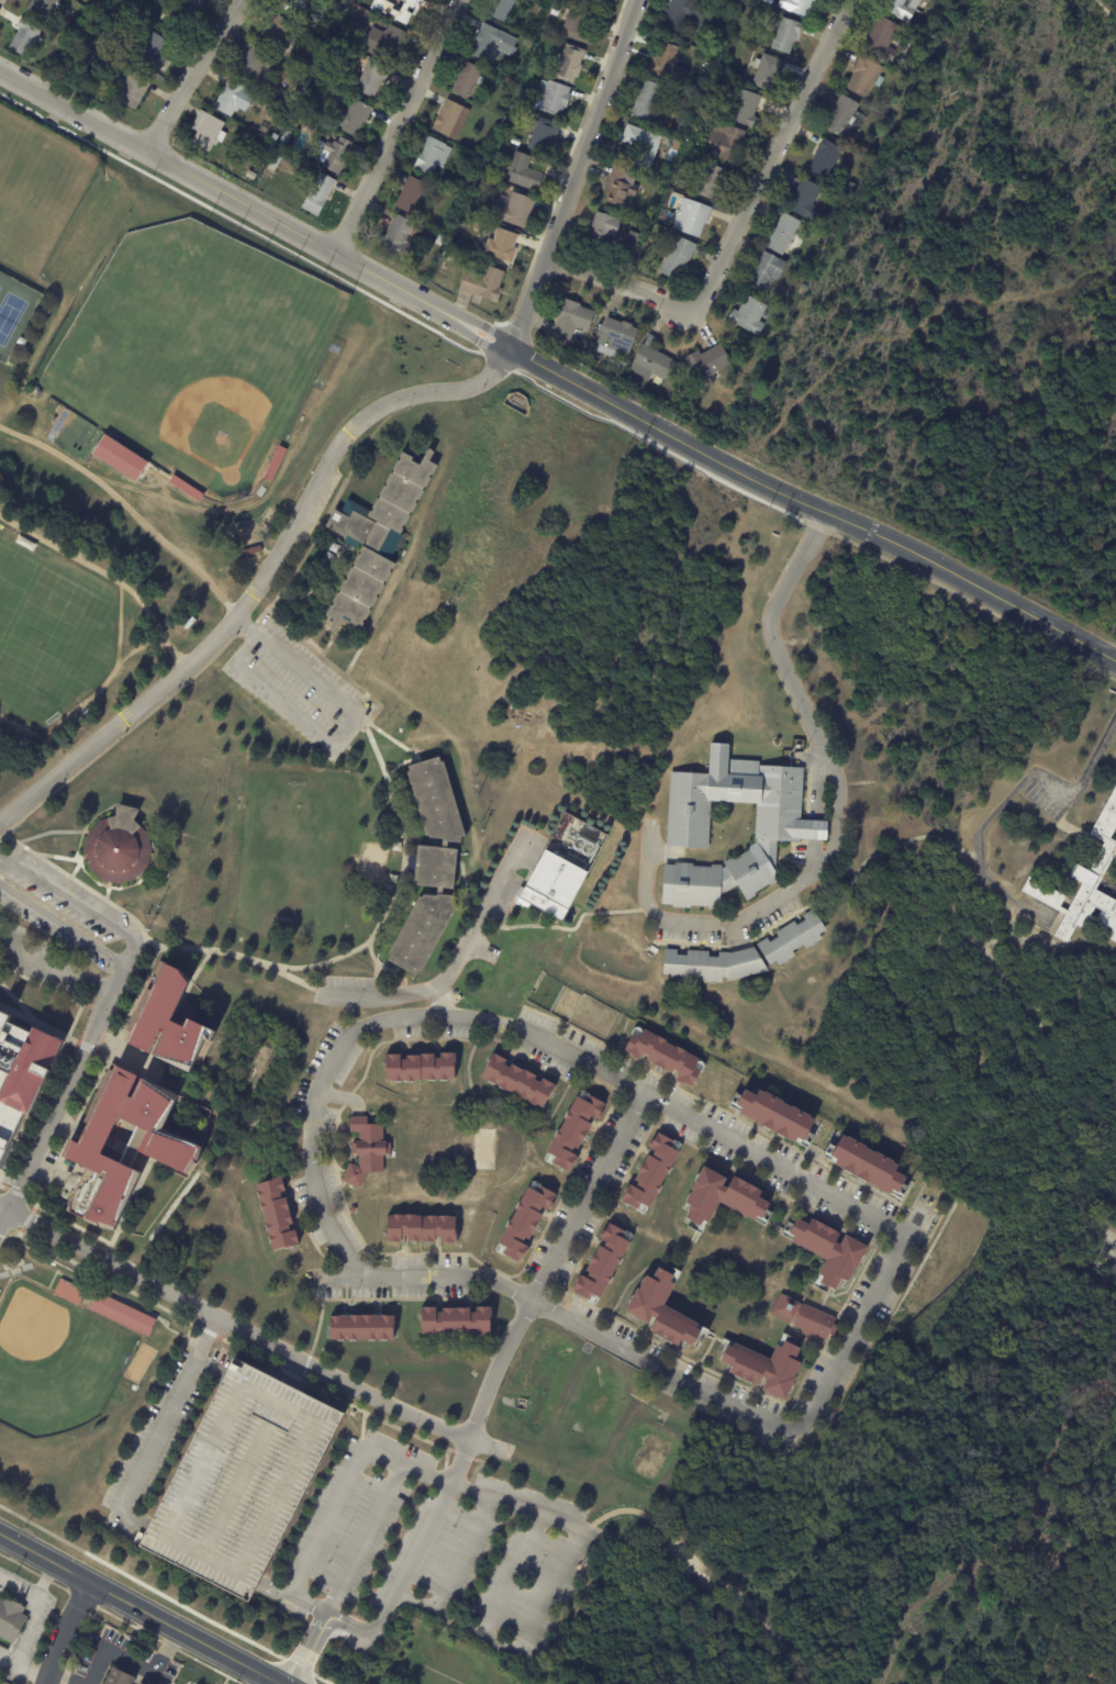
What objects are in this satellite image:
building: (769, 1)
building: (596, 2)
building: (198, 3)
building: (345, 3)
building: (92, 5)
building: (800, 7)
building: (44, 9)
building: (303, 9)
building: (501, 9)
building: (903, 9)
building: (408, 12)
building: (351, 15)
building: (679, 15)
building: (179, 23)
building: (578, 25)
building: (533, 34)
building: (278, 35)
building: (786, 35)
building: (24, 38)
building: (341, 38)
building: (884, 41)
building: (384, 43)
building: (488, 44)
building: (153, 54)
building: (666, 63)
building: (570, 65)
building: (255, 67)
building: (520, 68)
building: (723, 69)
road: (190, 73)
building: (768, 73)
building: (866, 78)
building: (371, 79)
building: (315, 81)
building: (467, 81)
building: (509, 82)
building: (132, 91)
building: (555, 98)
building: (233, 99)
building: (647, 101)
building: (744, 108)
building: (303, 109)
building: (299, 120)
building: (356, 120)
building: (847, 120)
building: (451, 121)
road: (398, 125)
building: (685, 126)
building: (290, 131)
building: (208, 132)
building: (288, 135)
building: (274, 136)
building: (544, 136)
building: (283, 143)
building: (726, 144)
building: (320, 146)
building: (643, 147)
building: (678, 147)
building: (279, 150)
building: (431, 154)
building: (339, 155)
building: (623, 156)
building: (826, 161)
building: (525, 174)
road: (576, 177)
building: (711, 182)
building: (470, 188)
building: (620, 188)
building: (852, 189)
park: (36, 190)
building: (319, 196)
building: (412, 196)
building: (806, 201)
road: (256, 209)
building: (515, 211)
building: (450, 215)
building: (692, 220)
road: (733, 220)
building: (603, 233)
building: (783, 235)
building: (399, 238)
building: (439, 242)
building: (633, 242)
building: (500, 245)
building: (450, 258)
building: (679, 259)
building: (766, 272)
building: (803, 280)
building: (484, 286)
building: (802, 292)
building: (47, 311)
park: (13, 312)
building: (750, 317)
building: (572, 321)
building: (601, 325)
building: (617, 339)
building: (21, 343)
park: (192, 356)
building: (596, 358)
building: (651, 363)
building: (707, 366)
building: (623, 368)
building: (32, 383)
building: (682, 392)
building: (120, 459)
building: (276, 465)
building: (186, 490)
road: (813, 510)
building: (375, 537)
building: (253, 551)
road: (305, 554)
road: (261, 580)
road: (243, 626)
road: (248, 628)
park: (49, 633)
parking lot: (293, 691)
road: (121, 735)
road: (386, 736)
road: (335, 740)
road: (1008, 793)
building: (789, 830)
road: (837, 836)
building: (397, 847)
building: (113, 849)
building: (161, 854)
building: (426, 865)
building: (560, 868)
building: (393, 880)
building: (1085, 884)
building: (389, 890)
parking lot: (63, 902)
road: (77, 904)
road: (63, 926)
road: (368, 939)
building: (740, 956)
road: (372, 959)
parking lot: (43, 961)
road: (450, 964)
road: (56, 968)
parking lot: (351, 982)
road: (438, 1003)
road: (19, 1005)
building: (182, 1022)
road: (37, 1026)
road: (85, 1048)
building: (663, 1057)
road: (123, 1066)
building: (418, 1068)
building: (21, 1071)
building: (515, 1081)
road: (62, 1096)
road: (666, 1107)
road: (227, 1115)
building: (773, 1115)
parking lot: (706, 1126)
building: (572, 1129)
building: (180, 1146)
building: (364, 1152)
building: (866, 1164)
building: (649, 1173)
parking lot: (587, 1196)
building: (721, 1197)
building: (276, 1215)
building: (526, 1226)
building: (420, 1228)
building: (827, 1251)
road: (1113, 1251)
road: (547, 1263)
building: (601, 1264)
building: (68, 1292)
building: (660, 1309)
building: (123, 1315)
building: (801, 1317)
parking lot: (861, 1319)
building: (455, 1320)
road: (315, 1327)
building: (360, 1327)
road: (248, 1338)
park: (54, 1361)
building: (763, 1367)
parking lot: (682, 1370)
road: (170, 1416)
parking lot: (165, 1423)
road: (375, 1449)
building: (243, 1479)
parking lot: (238, 1480)
road: (360, 1538)
road: (466, 1553)
parking lot: (428, 1554)
road: (705, 1572)
road: (511, 1573)
road: (33, 1593)
road: (143, 1608)
building: (11, 1619)
road: (27, 1626)
road: (63, 1631)
road: (303, 1649)
road: (116, 1651)
road: (23, 1664)
building: (119, 1677)
building: (138, 1683)
road: (283, 1683)

